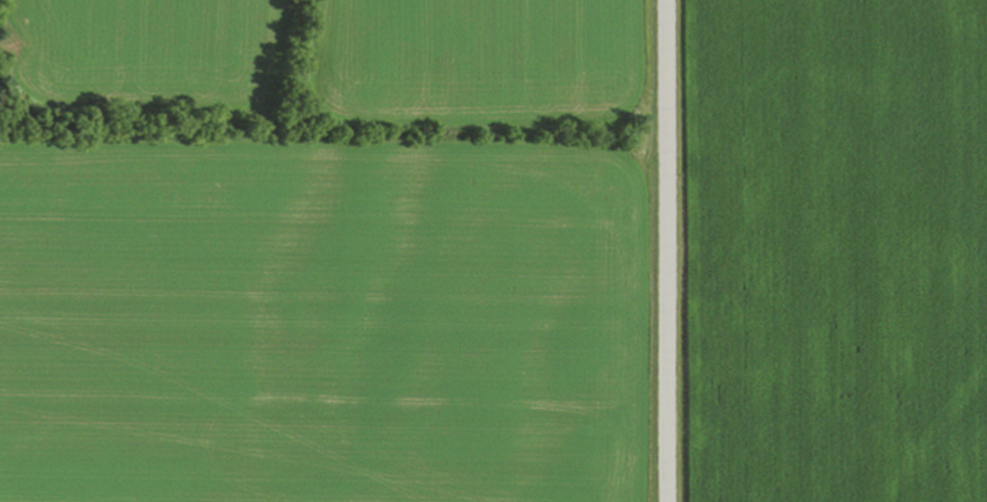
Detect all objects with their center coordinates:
road: (667, 251)

